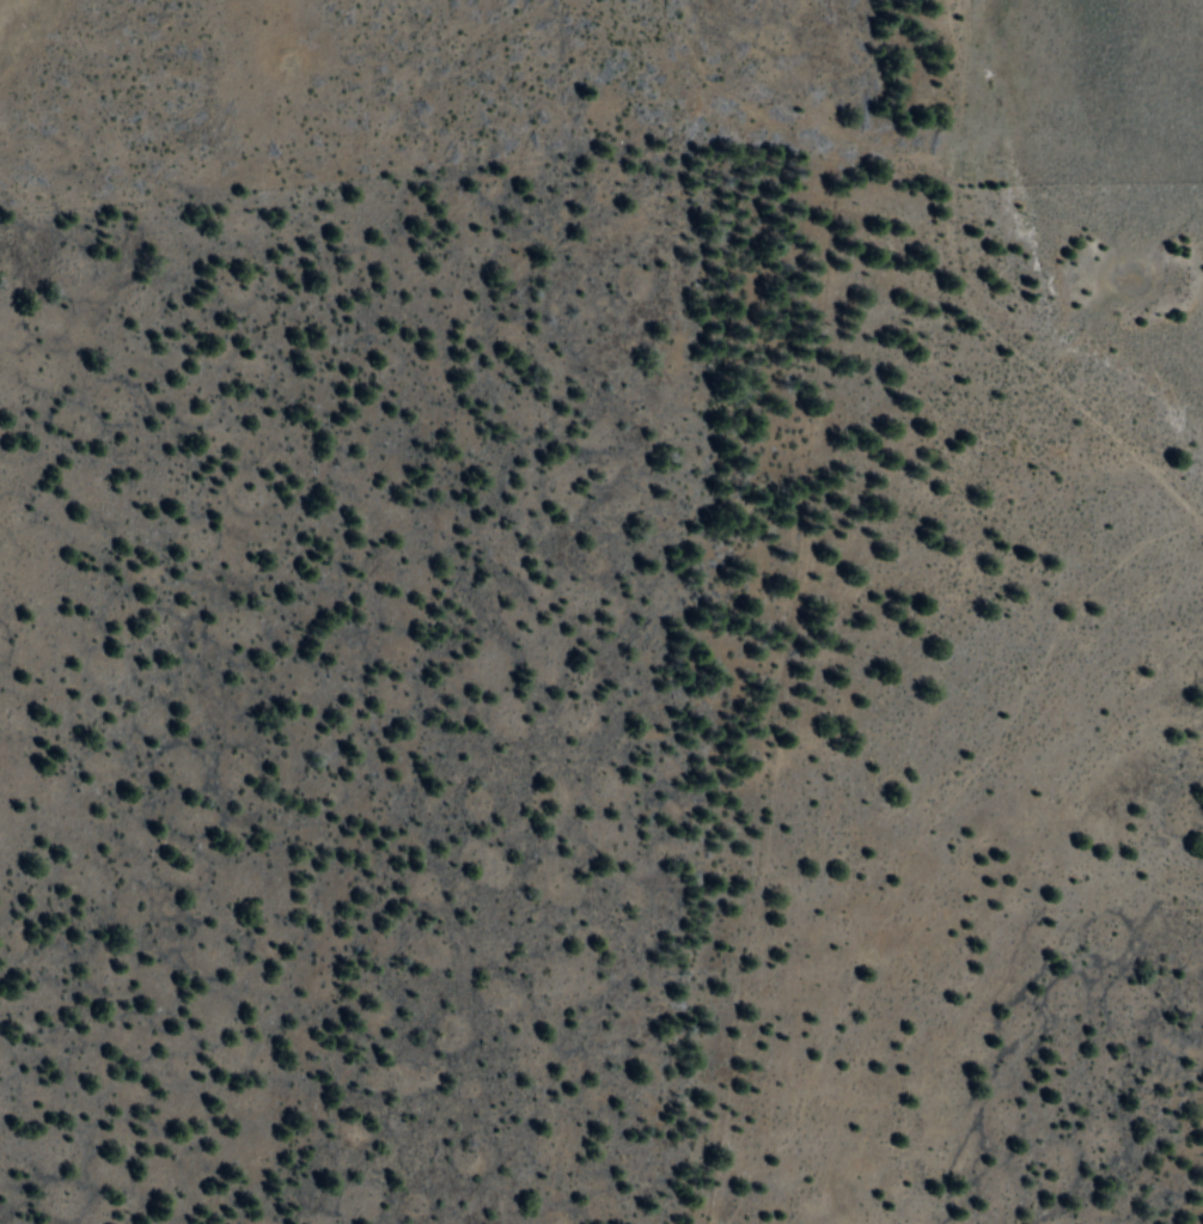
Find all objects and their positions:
road: (979, 304)

